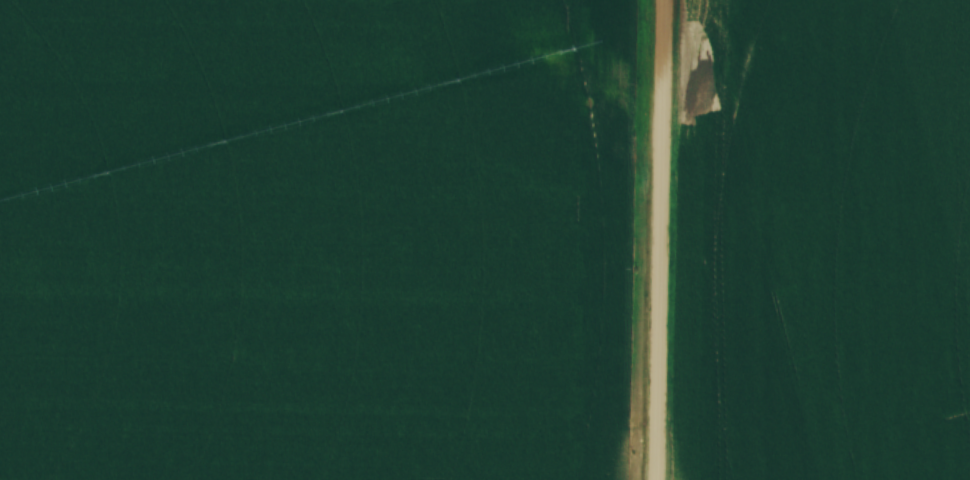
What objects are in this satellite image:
crop: (319, 239)
road: (659, 239)
crop: (822, 241)

